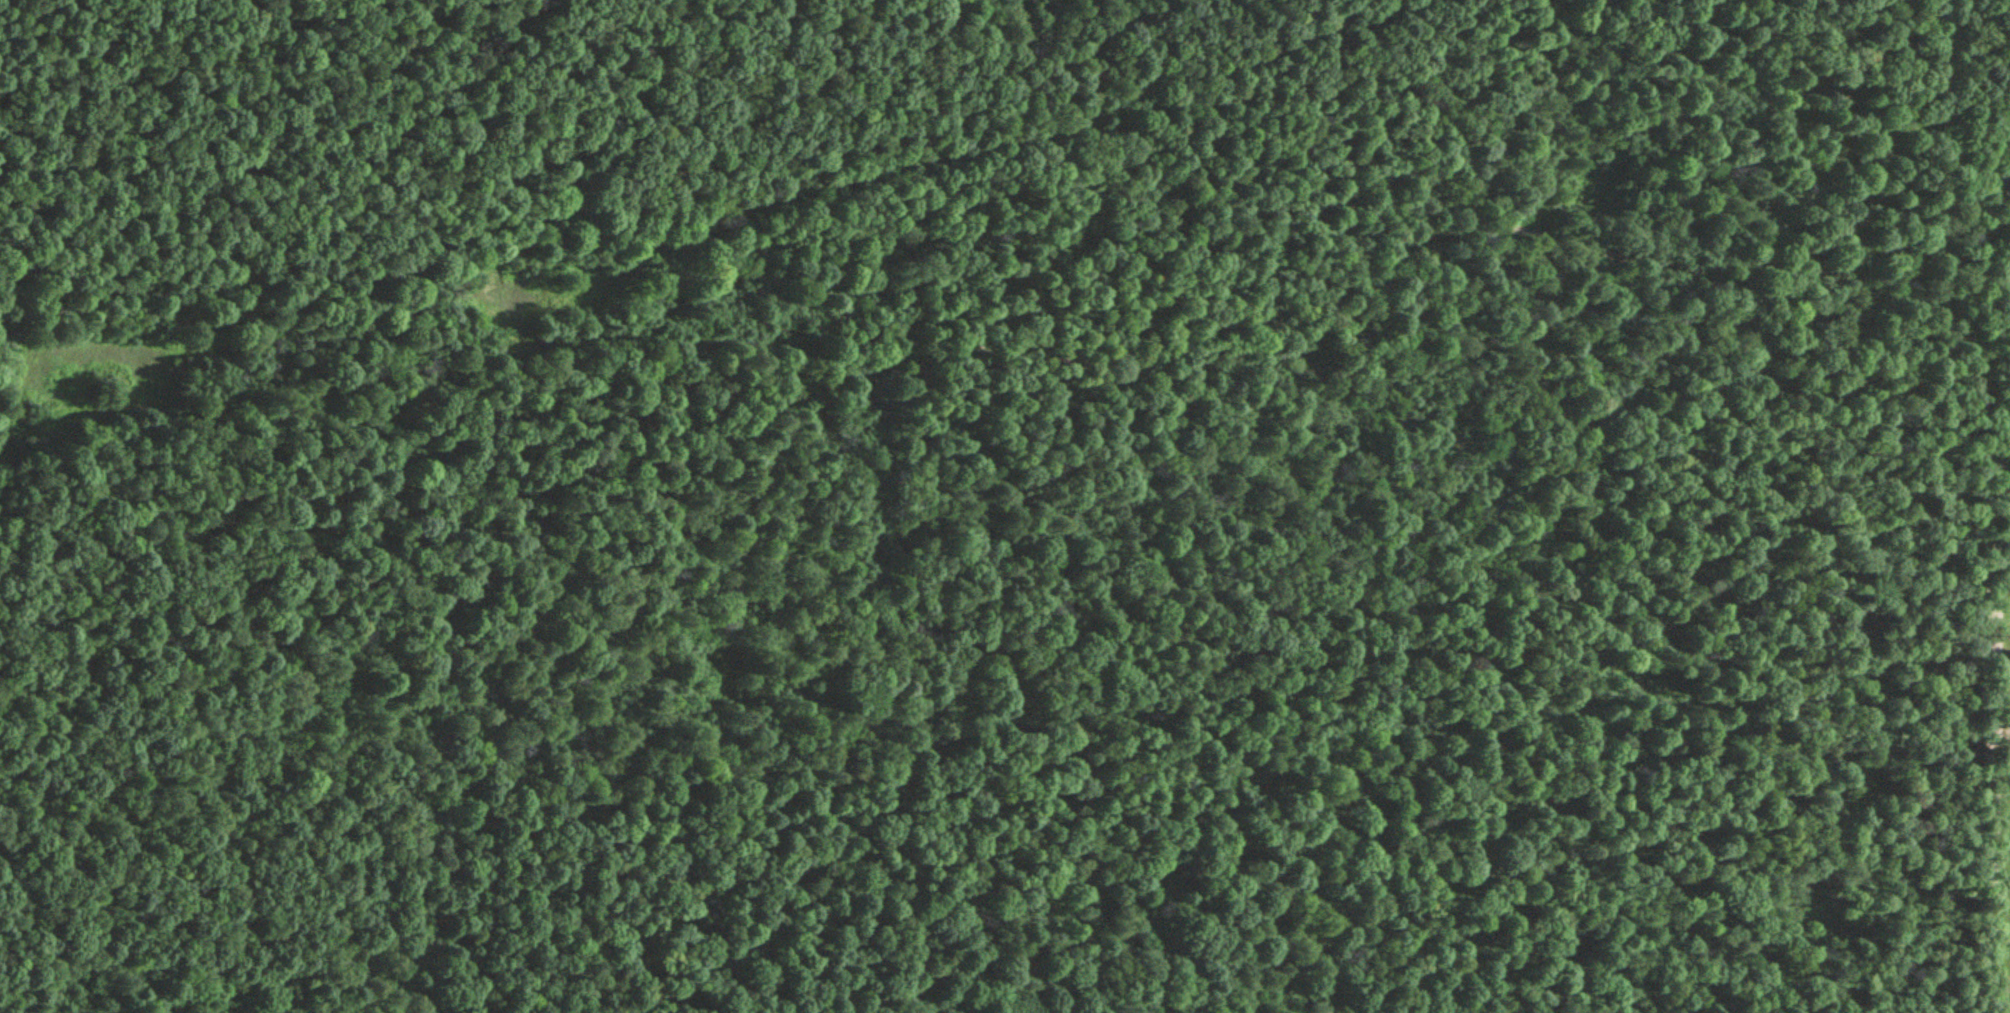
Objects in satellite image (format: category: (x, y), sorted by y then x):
road: (811, 345)
road: (452, 351)
road: (1992, 690)

